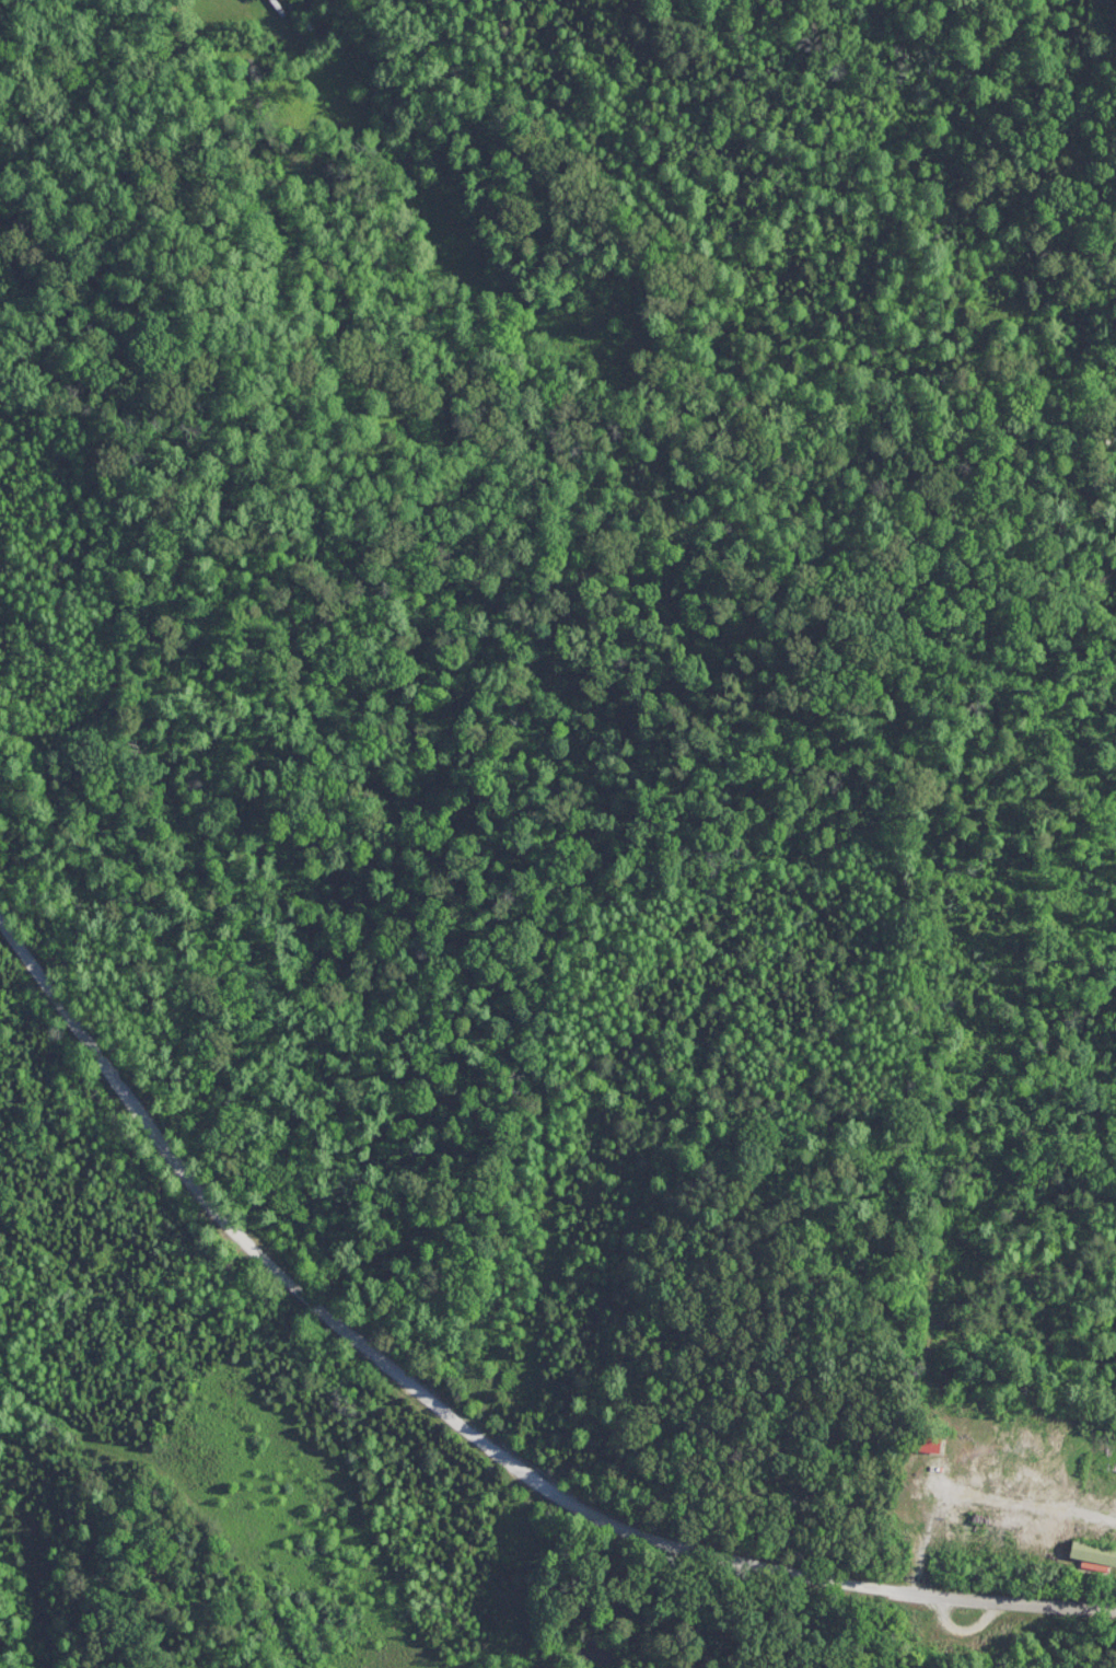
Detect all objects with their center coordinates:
road: (49, 989)
road: (446, 1409)
building: (1086, 1550)
road: (1004, 1599)
building: (995, 1636)

